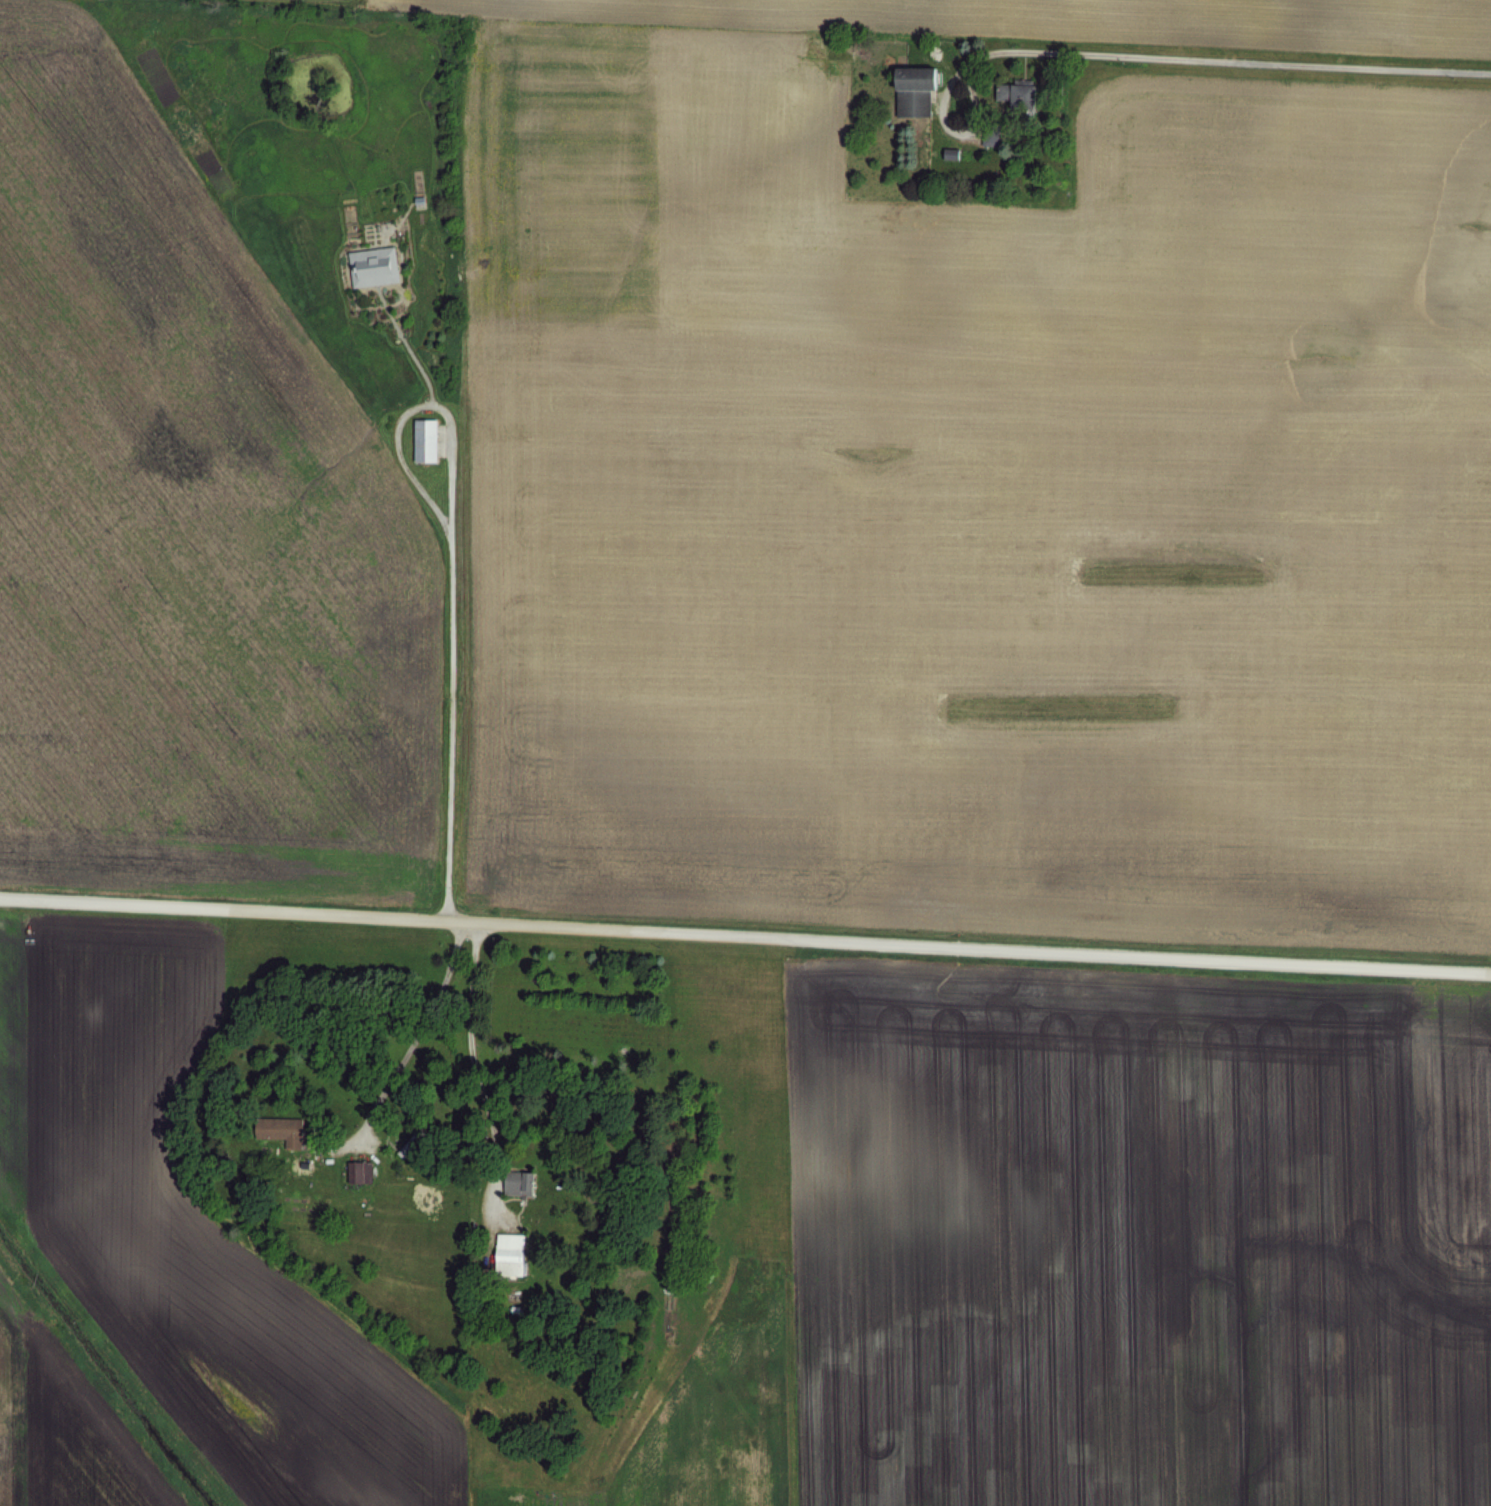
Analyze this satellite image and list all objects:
road: (1173, 56)
building: (909, 89)
building: (1012, 97)
building: (985, 131)
building: (992, 138)
building: (947, 150)
building: (367, 264)
building: (419, 438)
crop: (753, 448)
road: (403, 459)
road: (450, 609)
road: (745, 934)
road: (416, 1024)
road: (473, 1064)
building: (277, 1128)
building: (409, 1140)
building: (408, 1147)
building: (356, 1170)
building: (515, 1181)
crop: (733, 1201)
building: (504, 1252)

